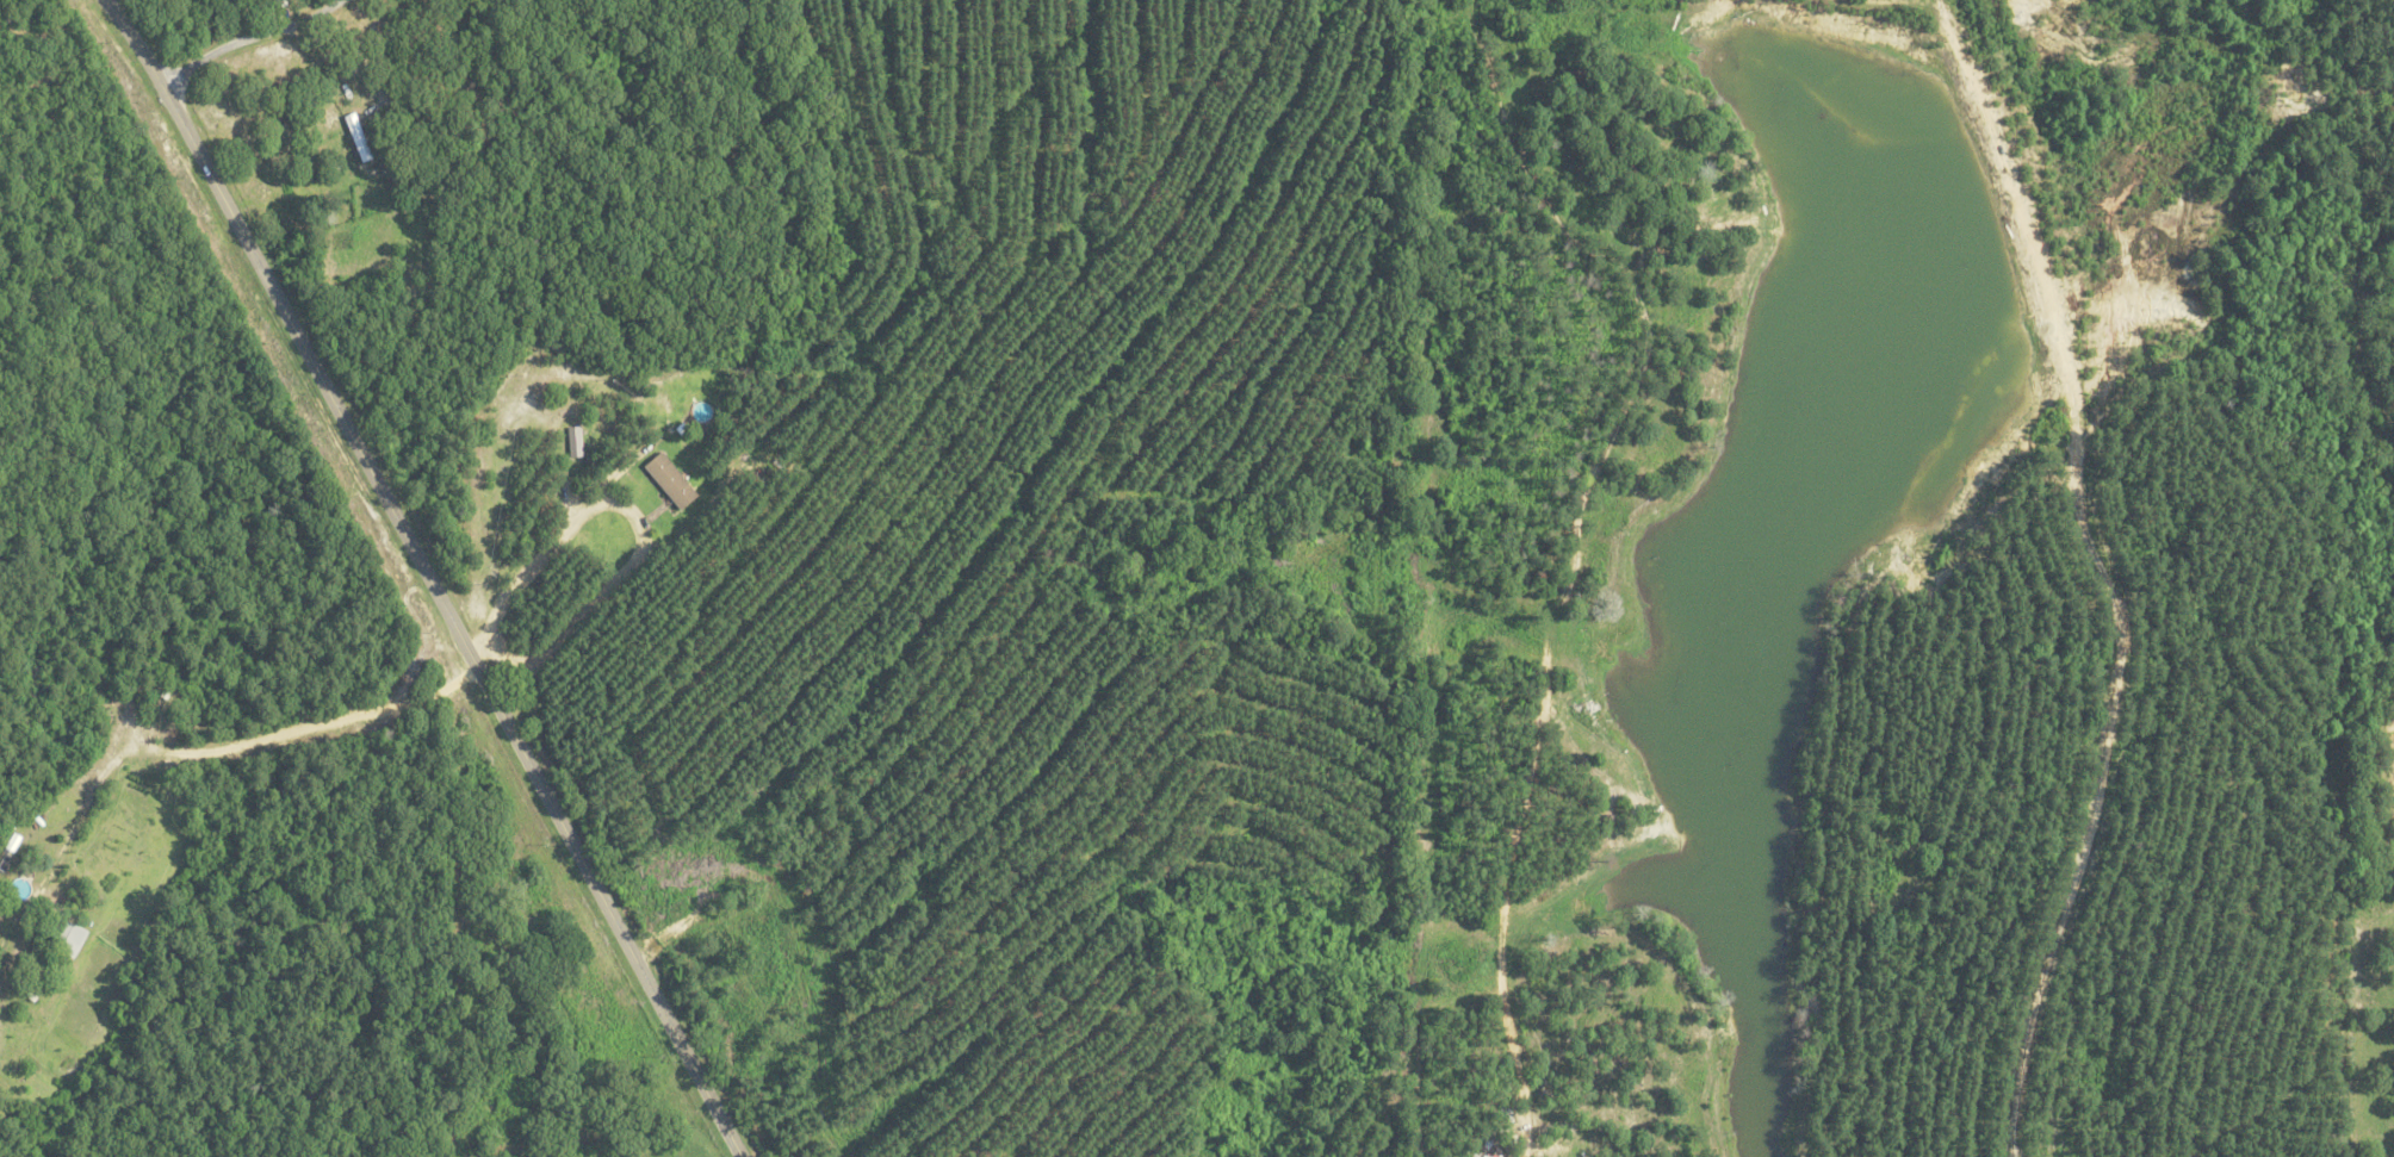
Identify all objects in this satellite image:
road: (238, 41)
building: (572, 440)
building: (666, 479)
road: (426, 574)
road: (306, 726)

